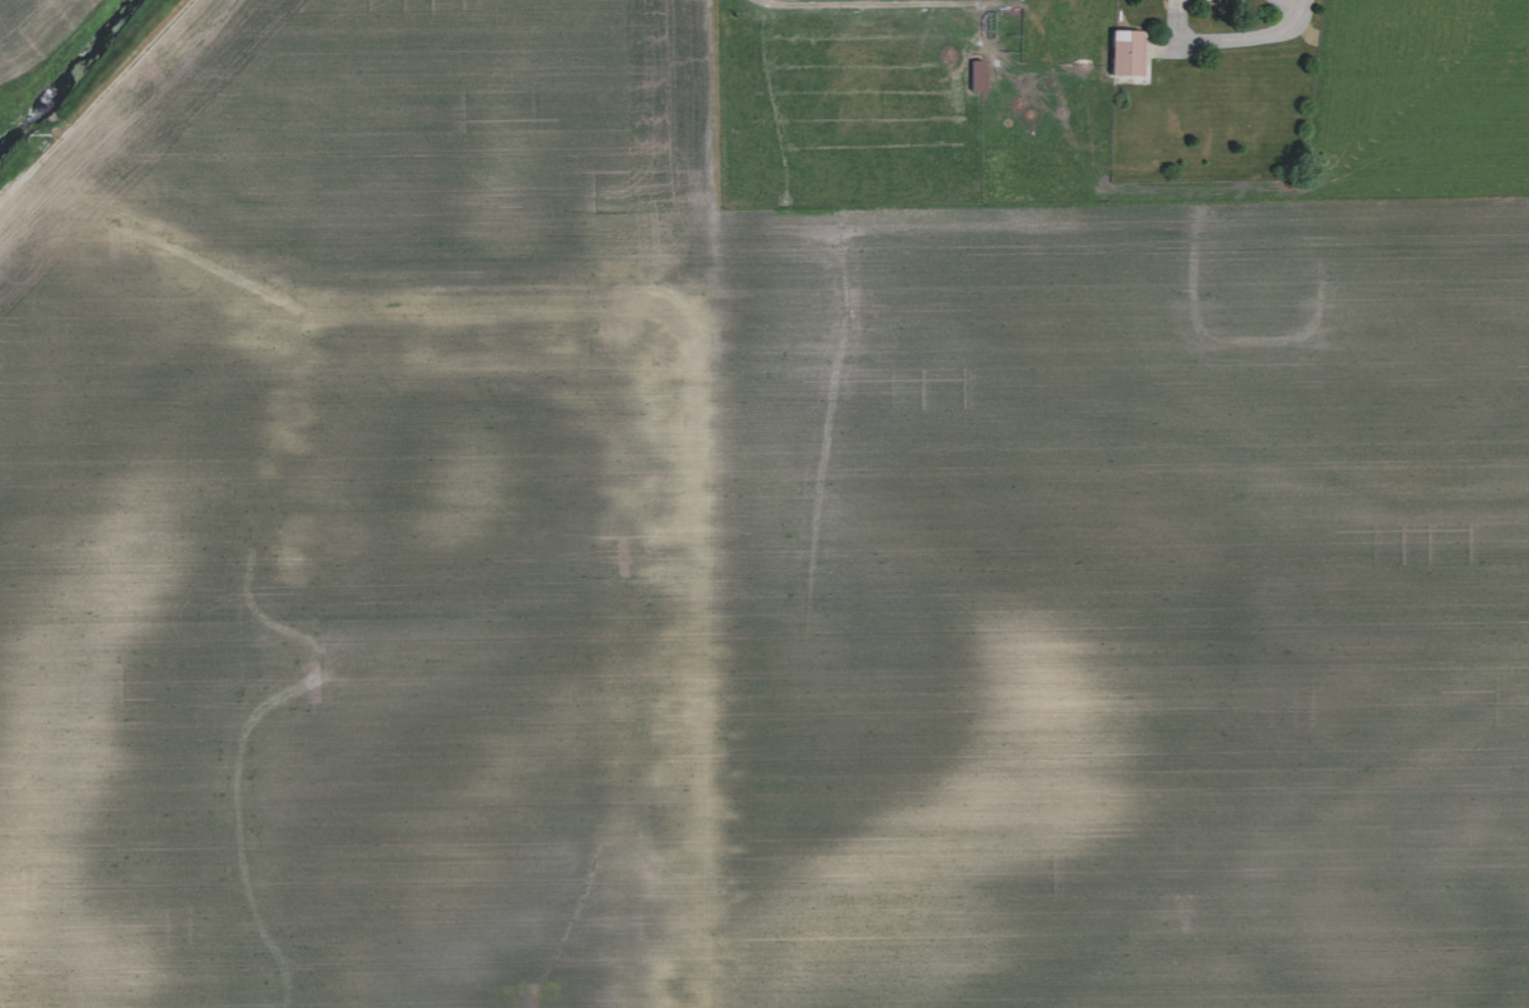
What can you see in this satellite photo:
road: (1259, 34)
building: (1135, 53)
building: (983, 76)
road: (711, 504)

